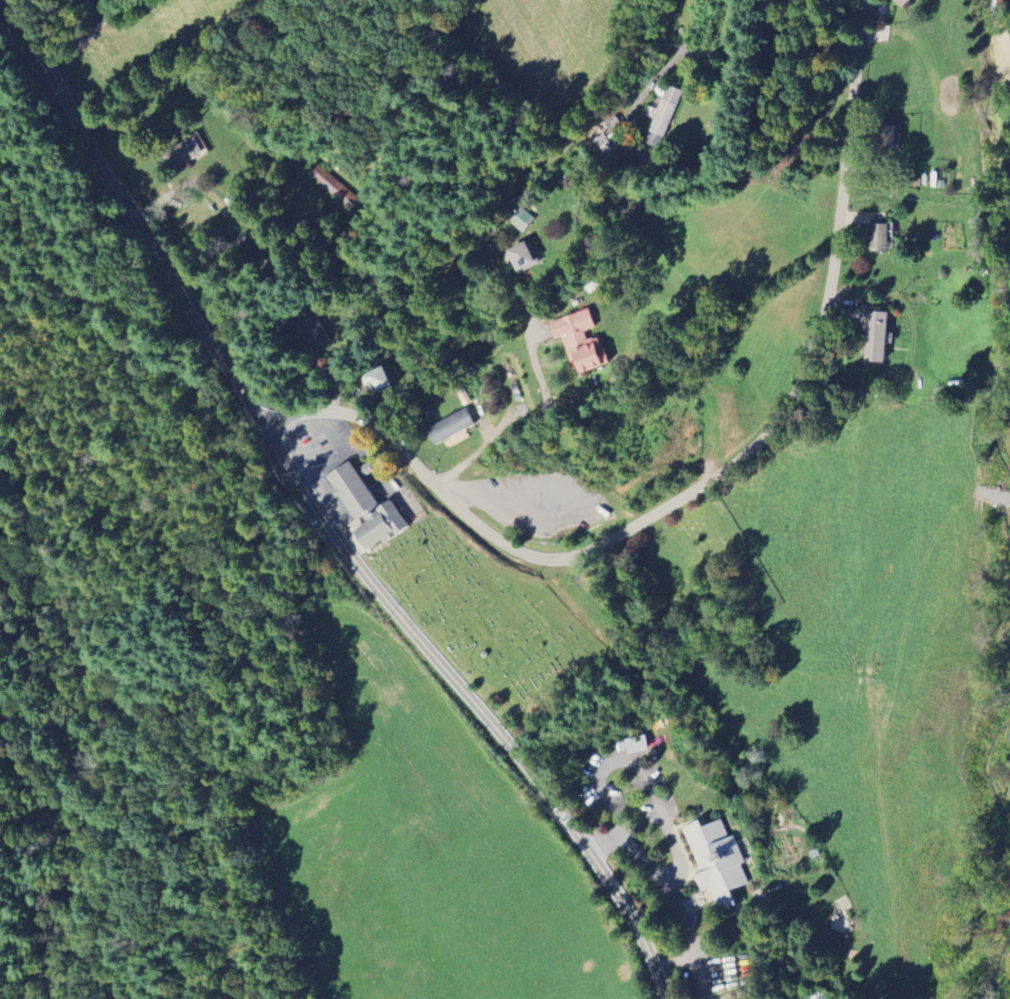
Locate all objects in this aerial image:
building: (901, 2)
road: (82, 37)
road: (840, 55)
road: (727, 58)
building: (661, 116)
building: (601, 142)
building: (181, 153)
building: (521, 220)
building: (878, 237)
building: (521, 257)
road: (77, 258)
road: (105, 300)
building: (314, 331)
building: (874, 337)
building: (580, 340)
building: (378, 380)
road: (521, 425)
building: (449, 427)
road: (709, 478)
building: (366, 504)
road: (320, 511)
road: (140, 529)
road: (113, 542)
park: (686, 577)
road: (150, 614)
park: (486, 619)
road: (107, 730)
building: (636, 745)
road: (260, 762)
road: (662, 820)
crop: (428, 854)
building: (720, 864)

